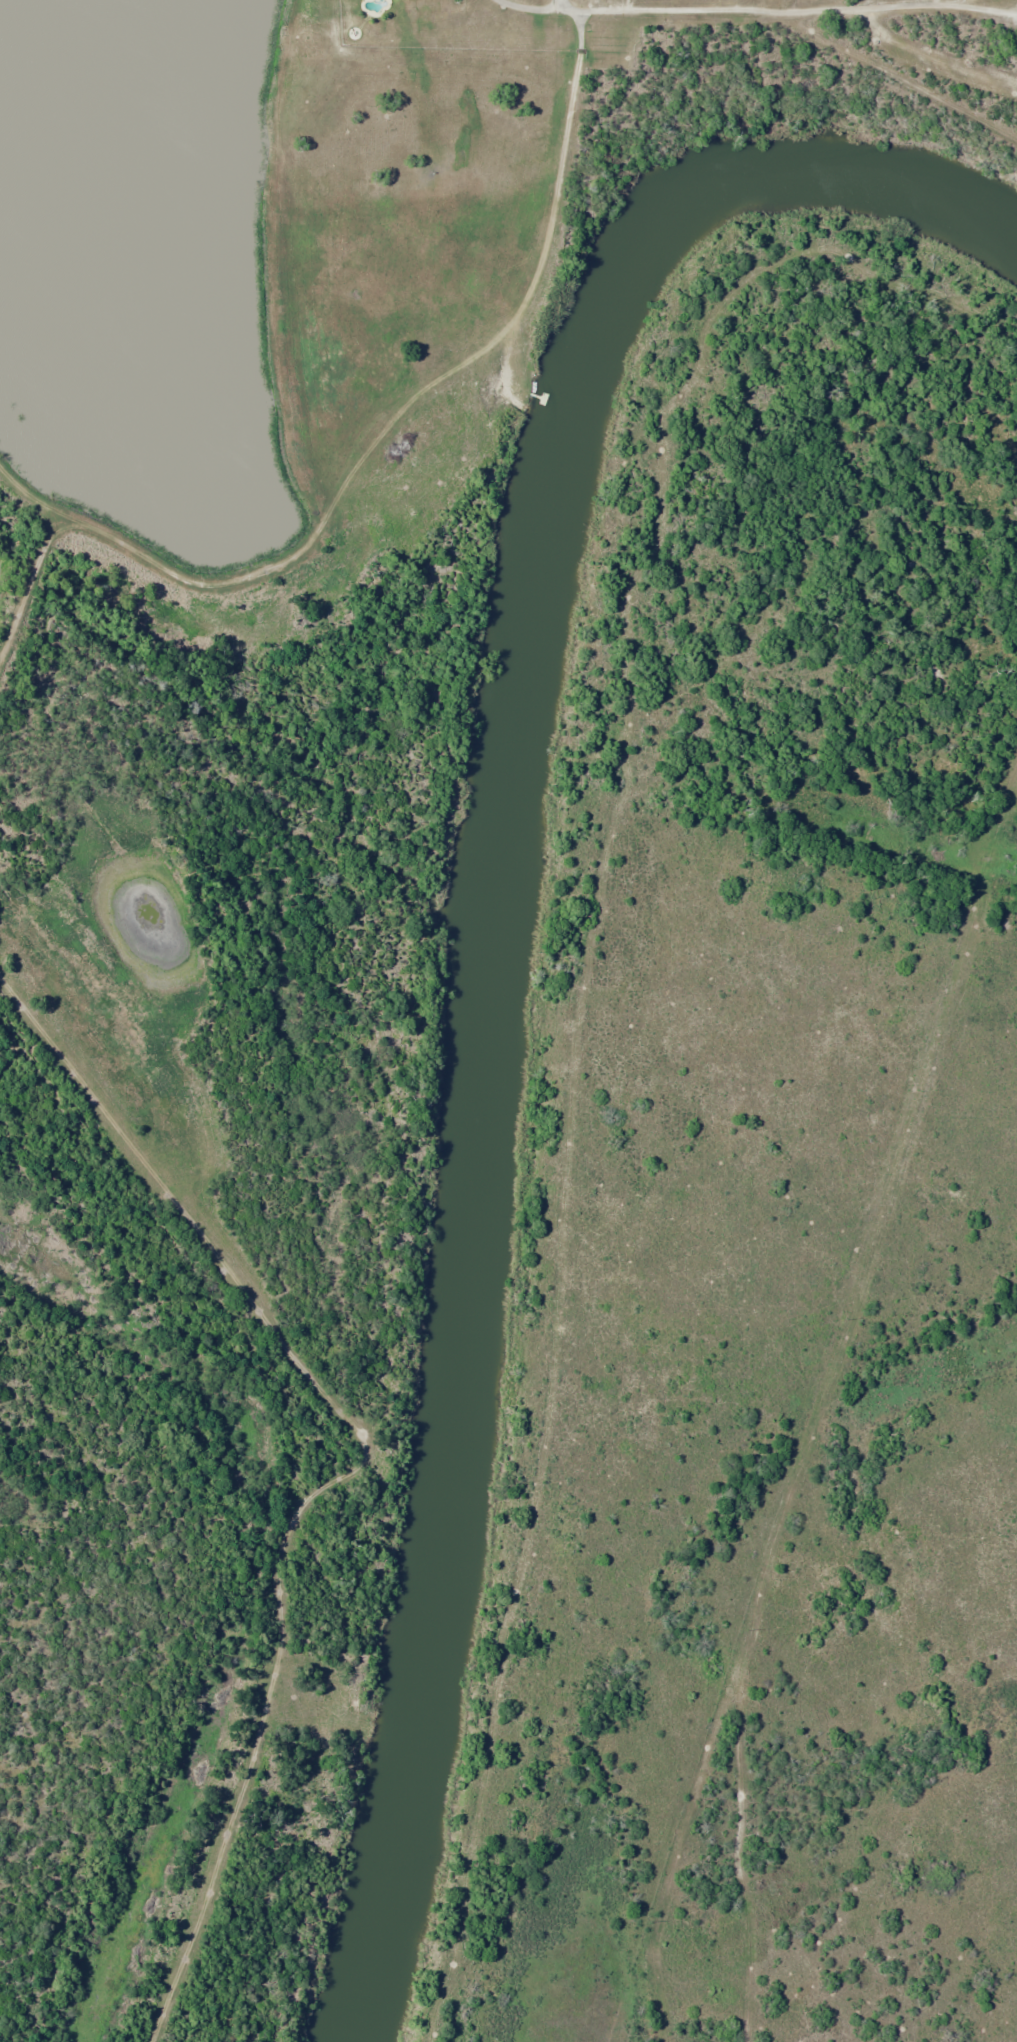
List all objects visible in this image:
road: (887, 46)
road: (957, 59)
road: (420, 432)
river: (494, 926)
road: (575, 1336)

